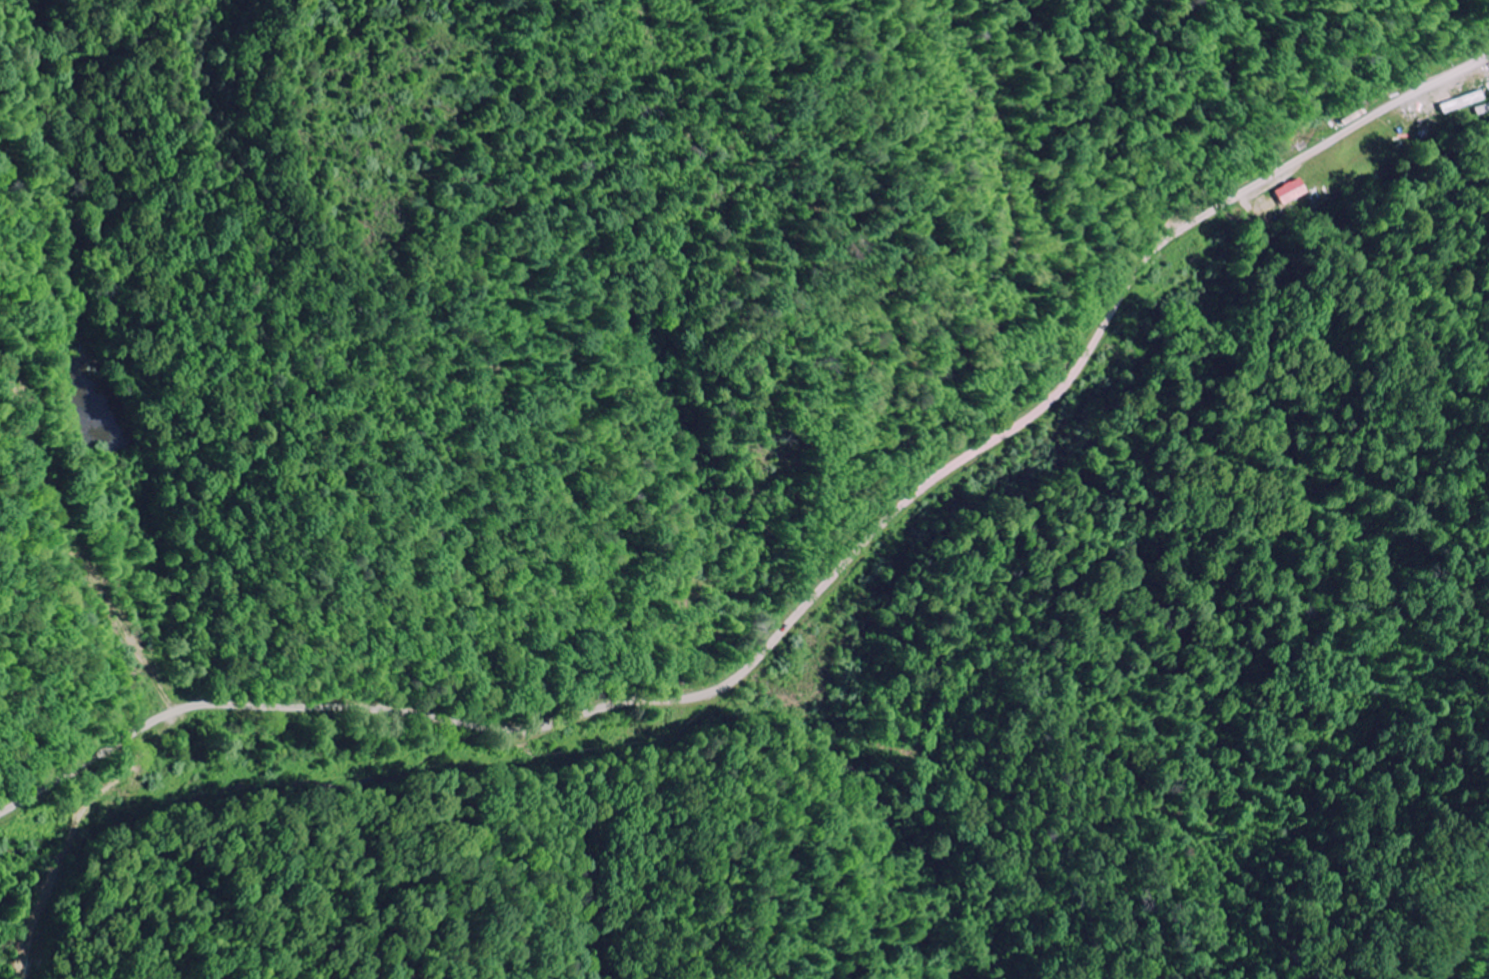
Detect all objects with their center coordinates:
road: (813, 600)

